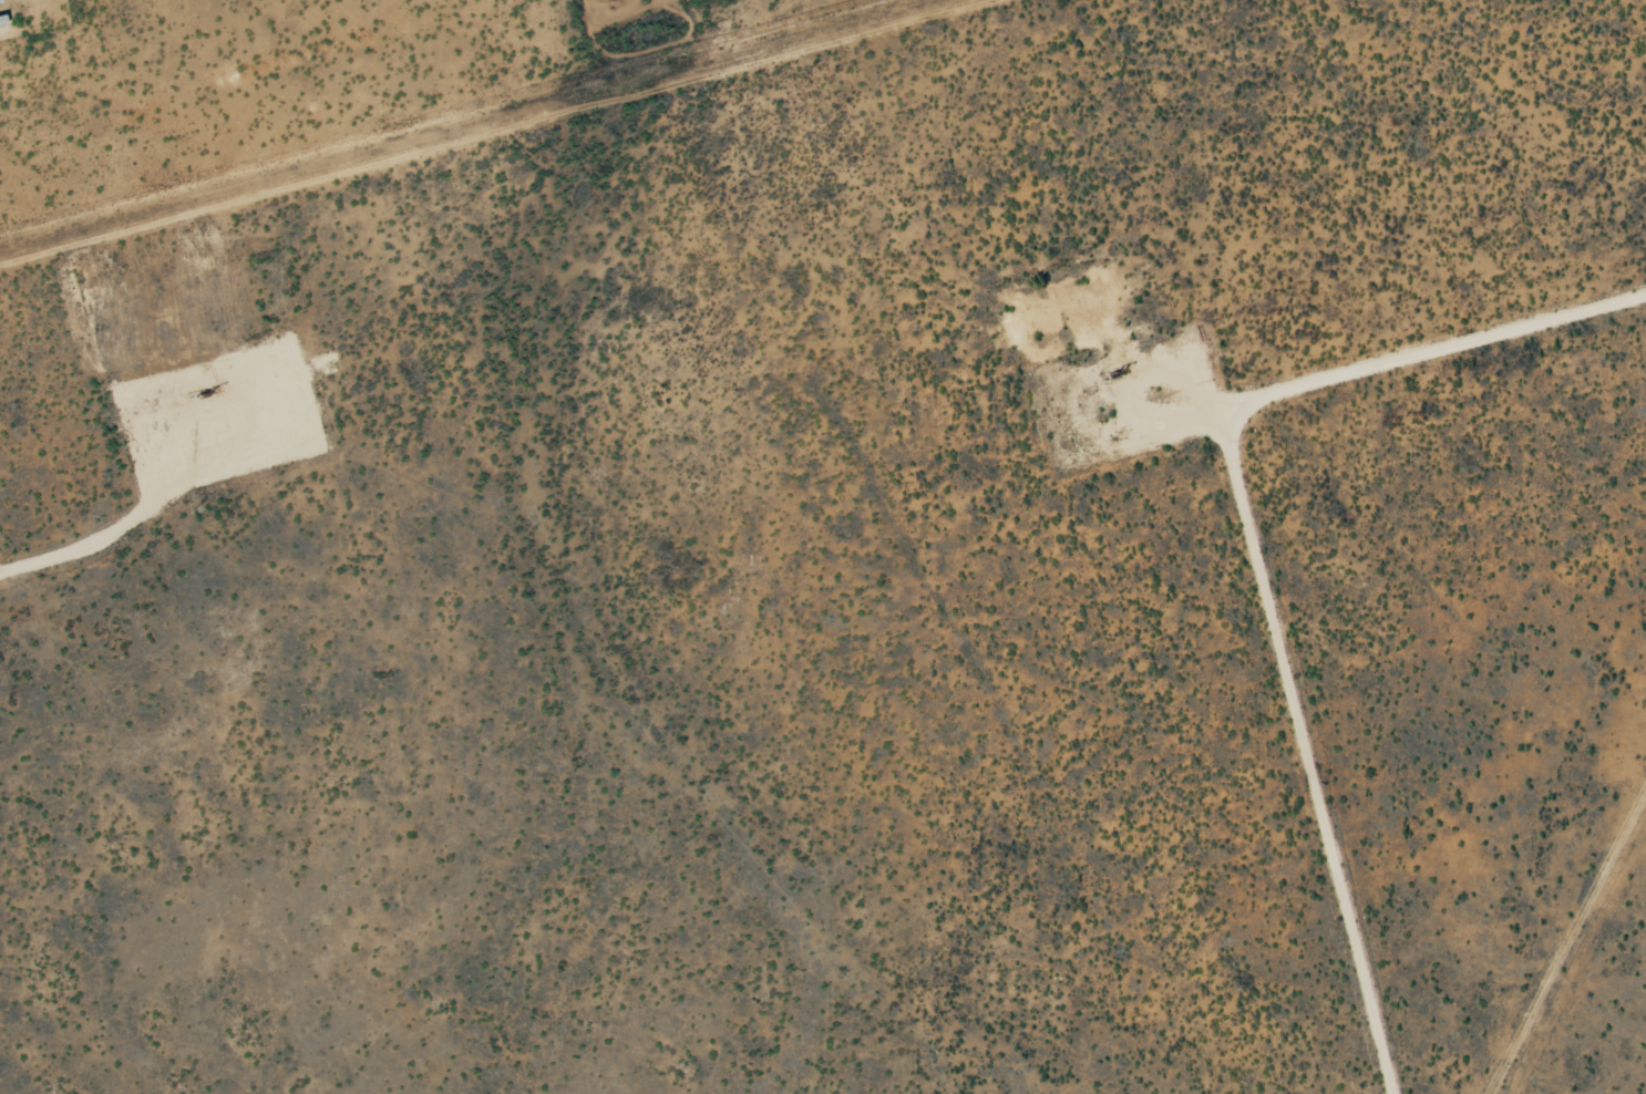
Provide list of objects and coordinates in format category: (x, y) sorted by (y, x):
building: (0, 2)

